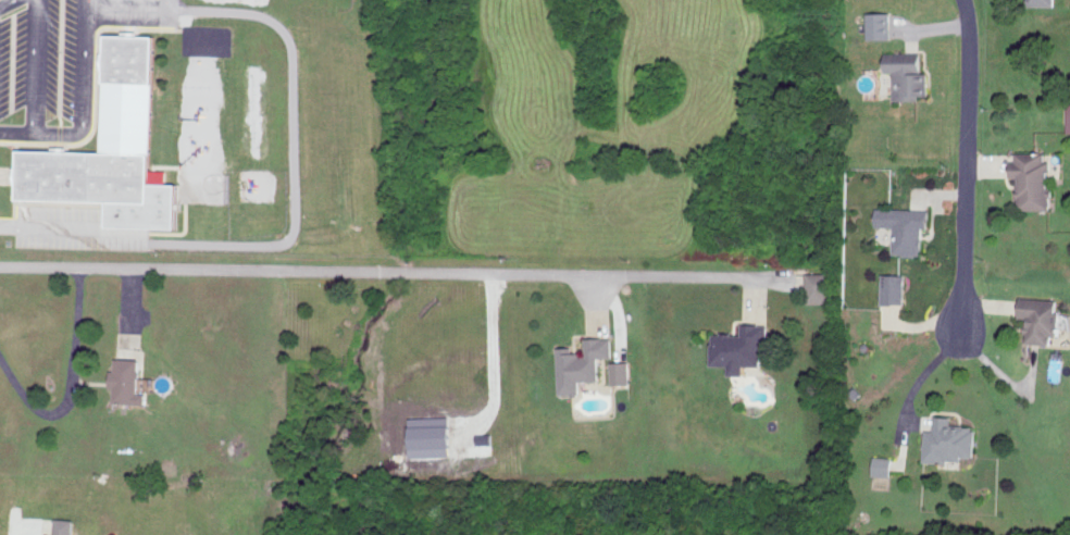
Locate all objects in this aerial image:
road: (3, 1)
building: (1043, 2)
road: (127, 4)
building: (881, 24)
building: (909, 74)
road: (33, 80)
road: (83, 89)
building: (1069, 115)
road: (294, 142)
building: (115, 148)
road: (963, 165)
building: (163, 175)
building: (1035, 178)
road: (7, 220)
road: (80, 227)
building: (907, 227)
road: (410, 274)
building: (820, 287)
building: (895, 287)
building: (1044, 316)
building: (743, 346)
building: (583, 362)
building: (622, 371)
road: (64, 382)
building: (129, 382)
road: (493, 407)
building: (951, 439)
building: (884, 465)
building: (66, 526)
road: (18, 530)

